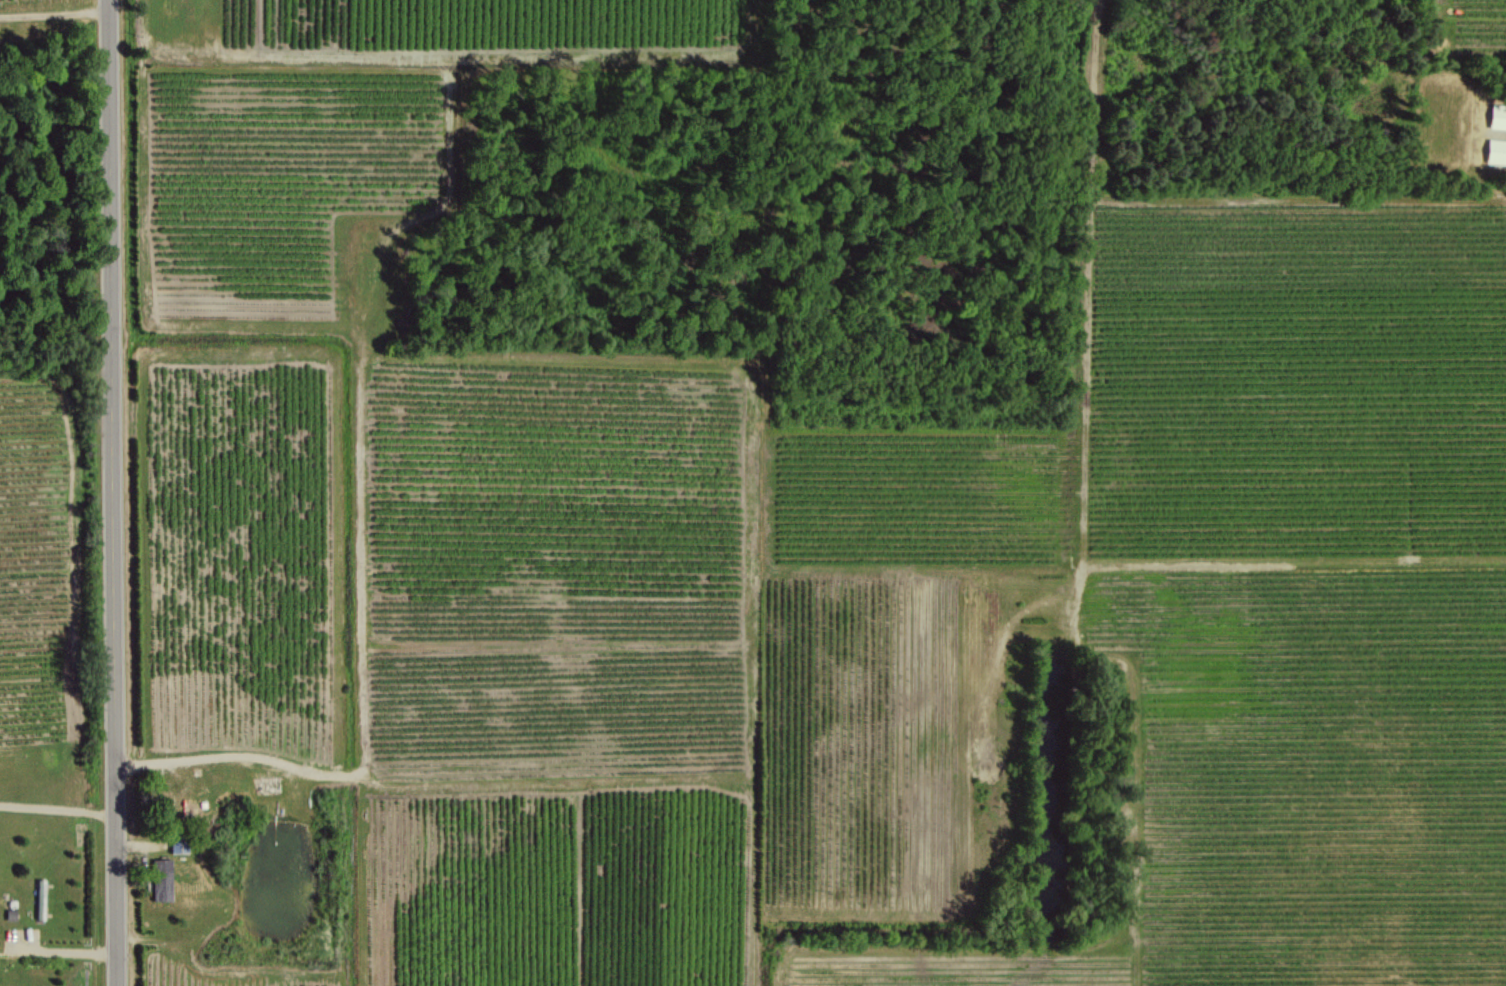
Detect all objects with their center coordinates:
building: (1497, 116)
building: (1496, 151)
road: (115, 492)
road: (58, 806)
building: (177, 843)
building: (161, 879)

